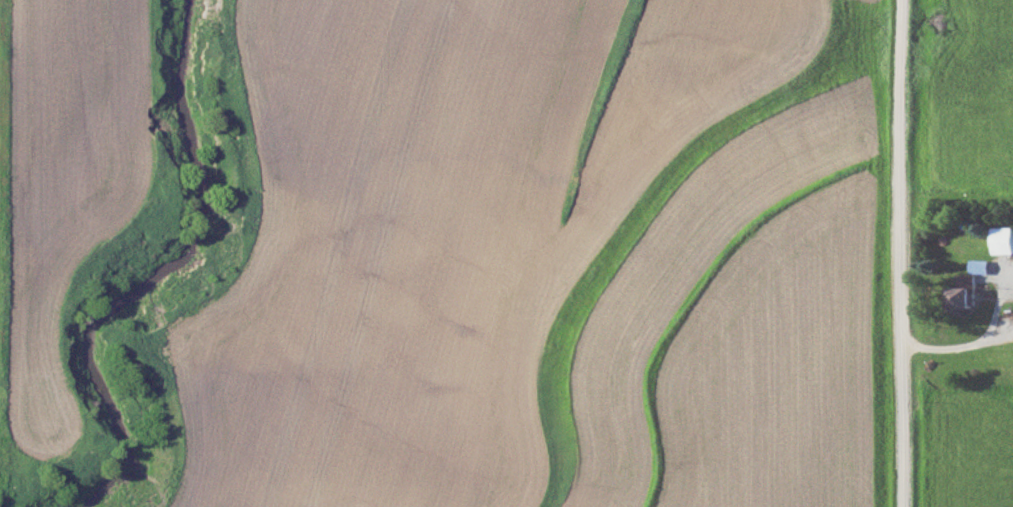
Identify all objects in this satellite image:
road: (902, 253)
building: (965, 289)
building: (1005, 321)

